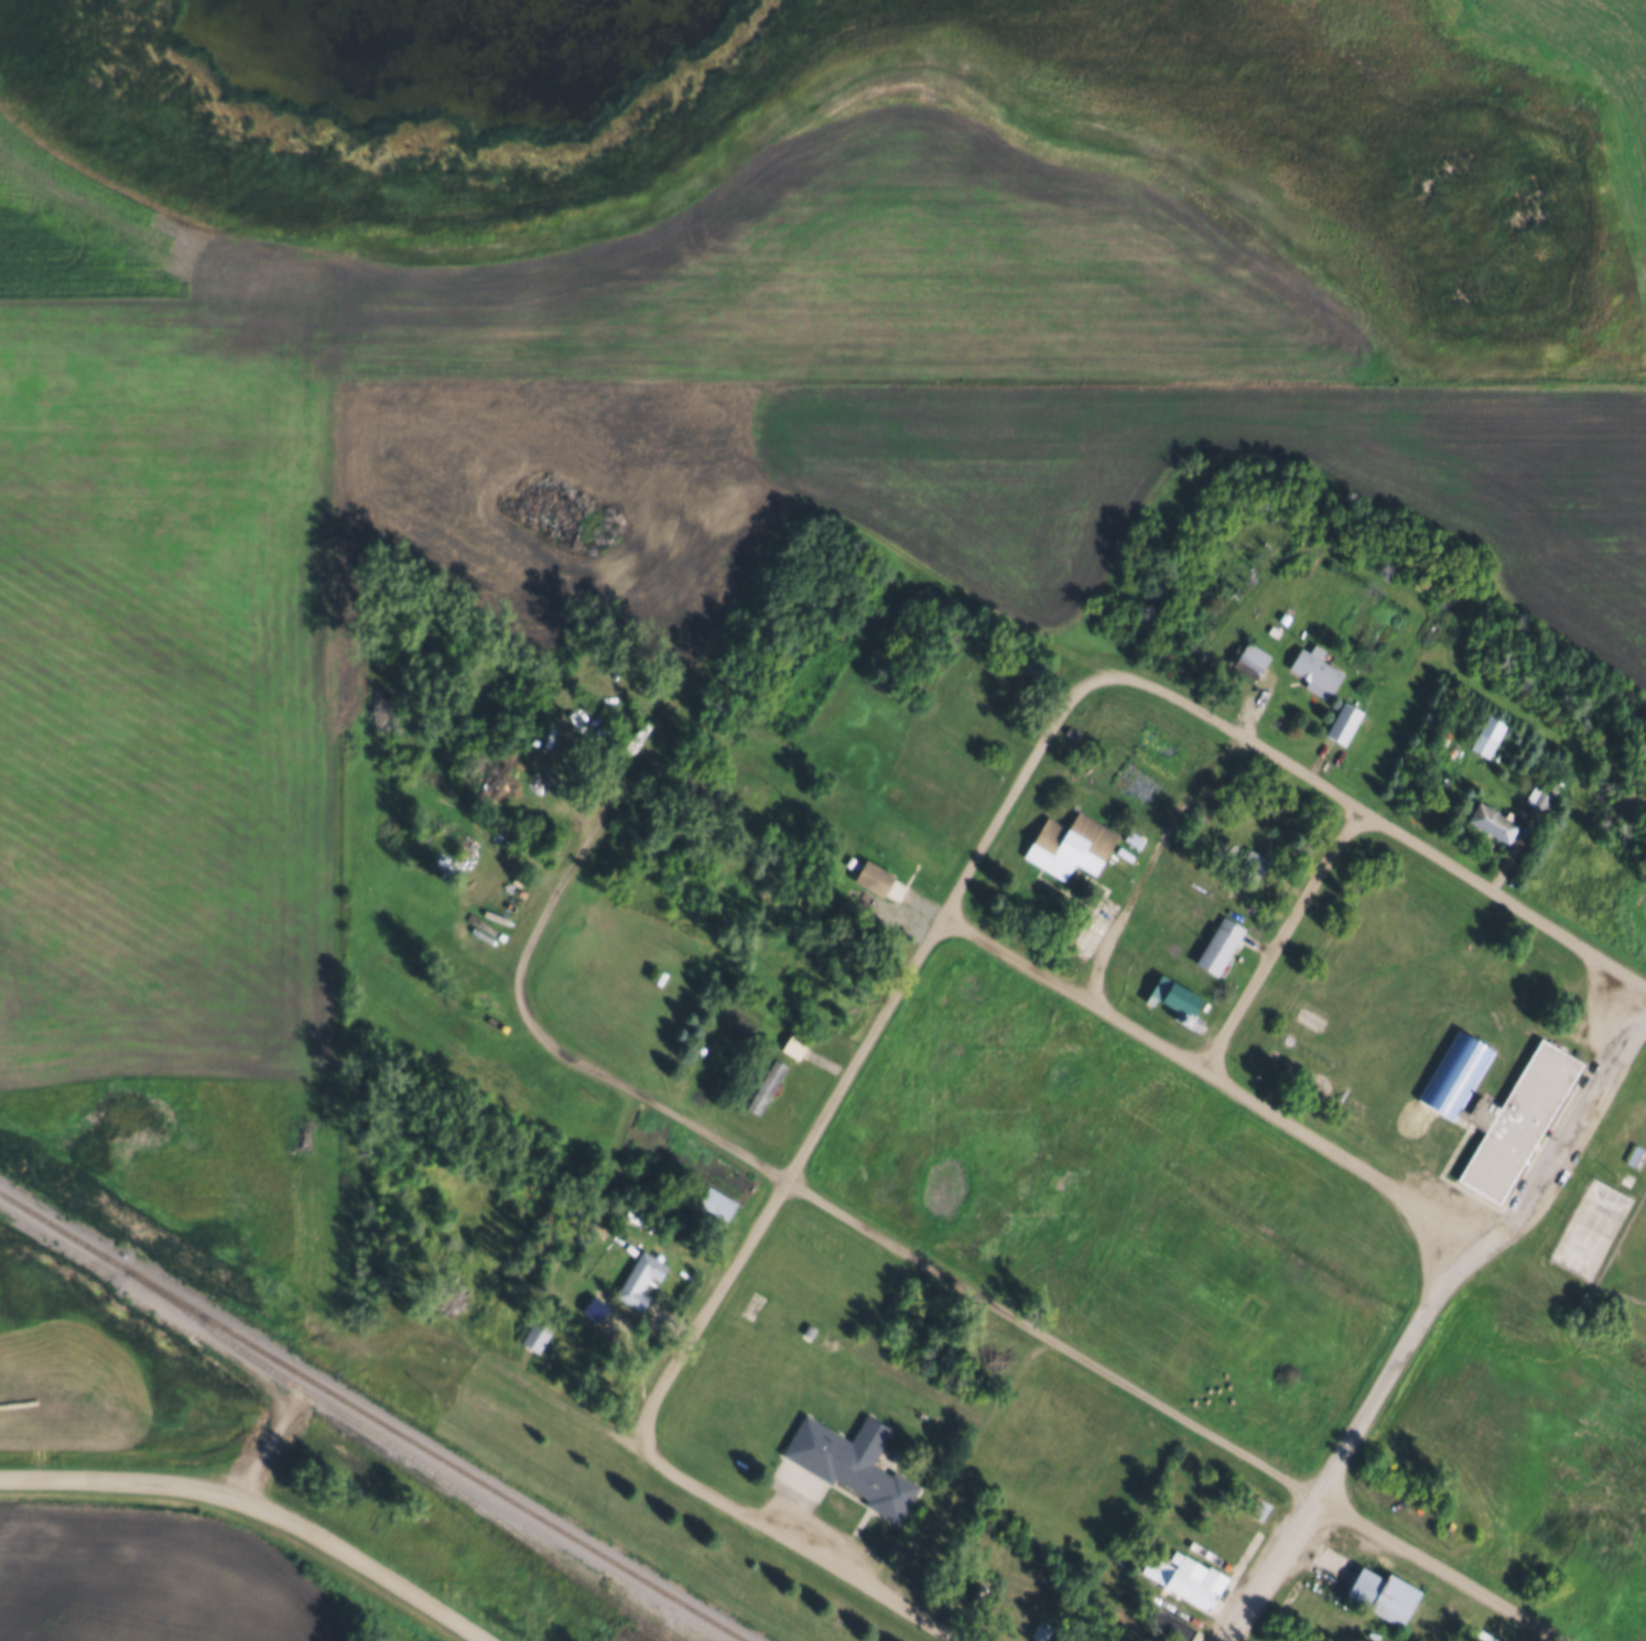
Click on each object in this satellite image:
road: (972, 589)
building: (1273, 629)
building: (1248, 659)
building: (1312, 665)
building: (1342, 721)
building: (1485, 733)
road: (636, 738)
building: (1538, 794)
building: (1491, 820)
road: (1394, 825)
building: (1133, 836)
building: (1090, 840)
building: (897, 843)
building: (1252, 859)
building: (830, 873)
building: (870, 877)
road: (1136, 888)
road: (1278, 935)
building: (1217, 943)
building: (657, 976)
building: (1176, 998)
road: (864, 1041)
building: (793, 1043)
road: (1213, 1075)
building: (1450, 1078)
building: (764, 1084)
building: (1513, 1118)
building: (1635, 1154)
building: (715, 1200)
park: (1592, 1225)
building: (639, 1278)
road: (1425, 1306)
building: (809, 1327)
road: (1035, 1328)
building: (535, 1334)
road: (529, 1381)
railway: (372, 1415)
road: (266, 1445)
railway: (404, 1450)
building: (849, 1460)
road: (957, 1461)
road: (115, 1475)
building: (1245, 1501)
road: (808, 1552)
road: (361, 1562)
building: (1183, 1576)
building: (971, 1593)
building: (1378, 1594)
building: (1163, 1622)
building: (1038, 1629)
building: (1469, 1640)

